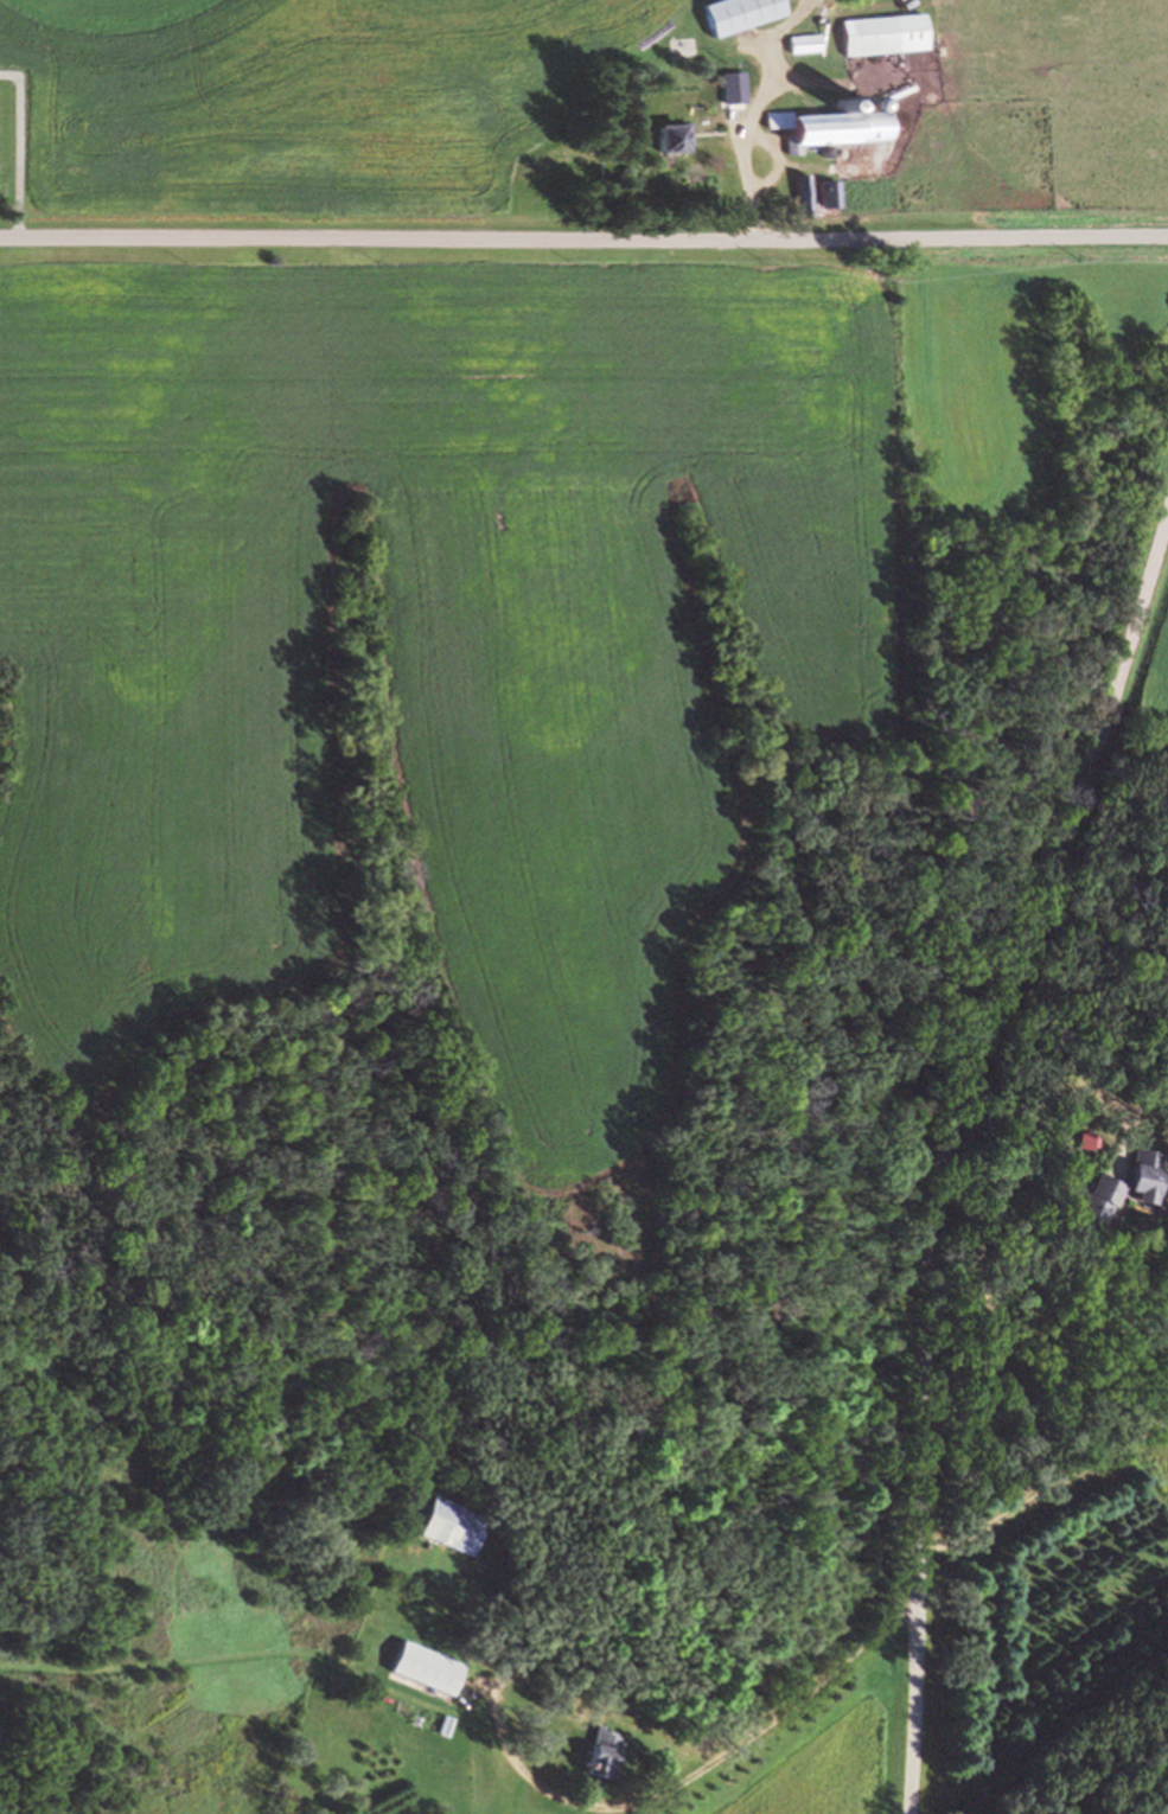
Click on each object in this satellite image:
building: (735, 13)
building: (881, 32)
building: (802, 40)
building: (730, 89)
building: (822, 128)
building: (671, 136)
park: (14, 148)
road: (17, 148)
building: (828, 192)
building: (798, 194)
road: (583, 241)
road: (946, 1143)
building: (1143, 1171)
building: (1097, 1196)
road: (991, 1203)
road: (1046, 1493)
building: (451, 1525)
building: (425, 1667)
building: (443, 1723)
building: (601, 1751)
road: (696, 1774)

